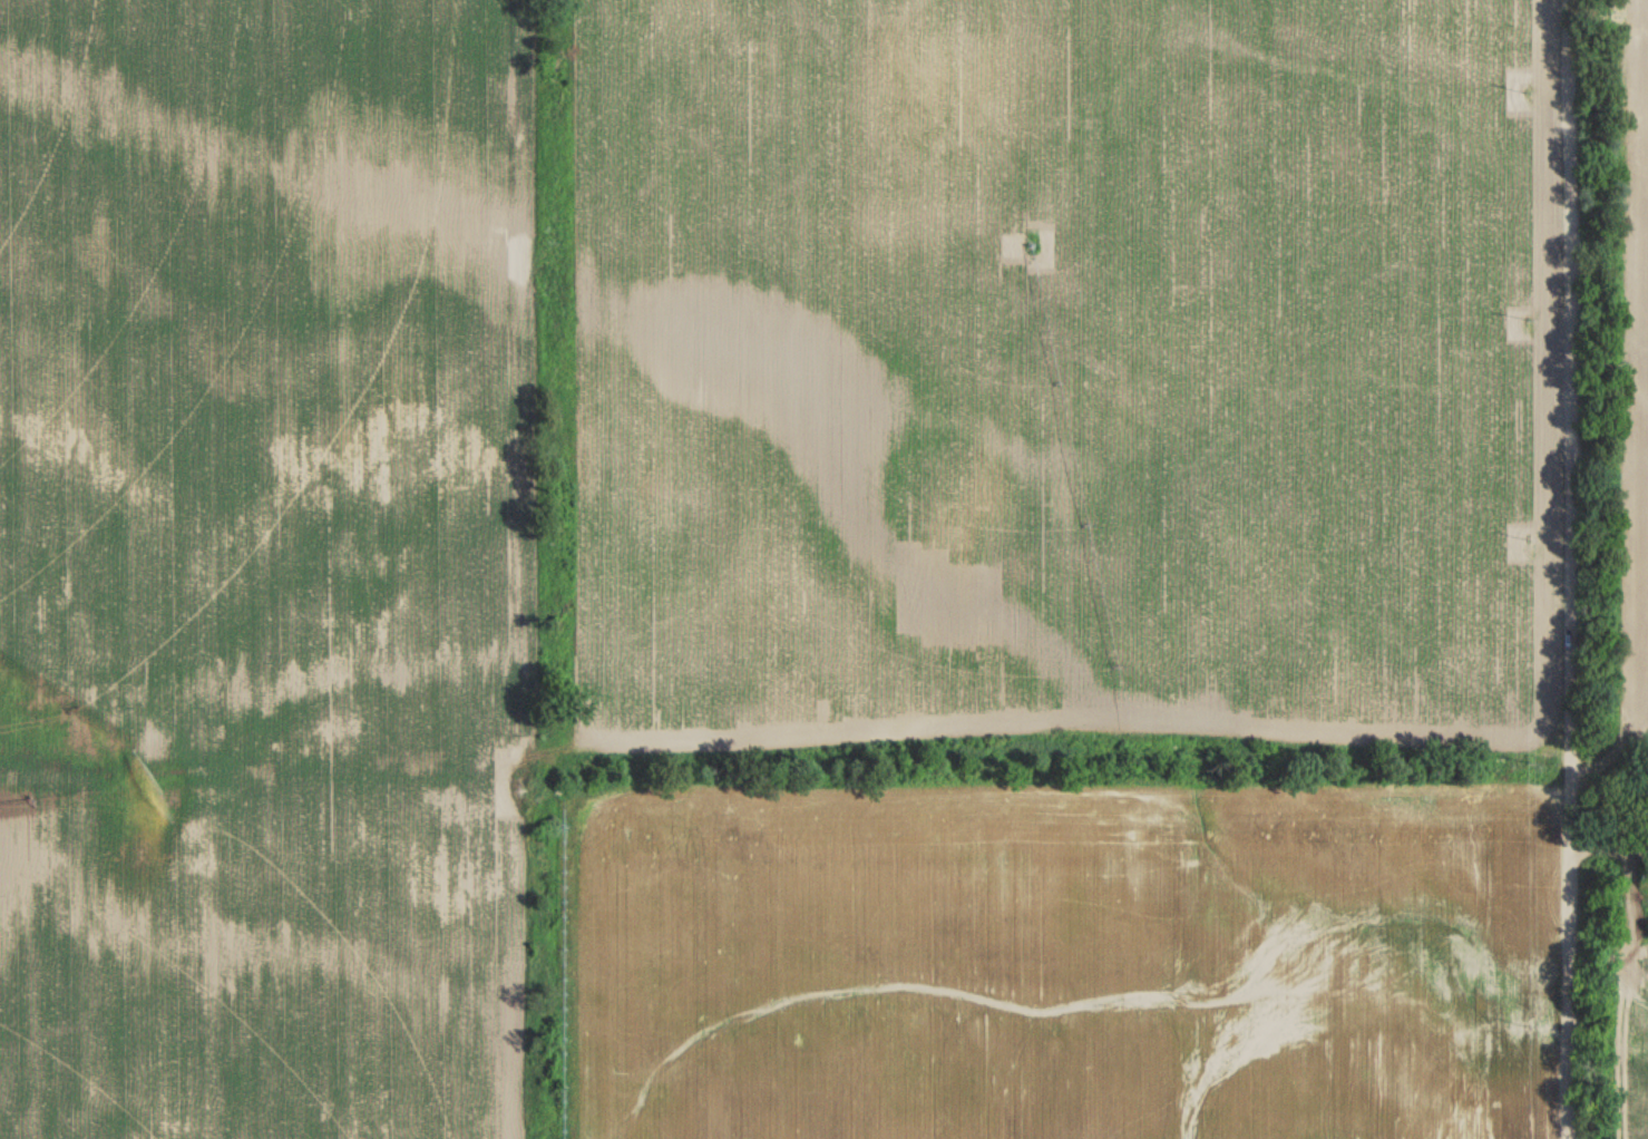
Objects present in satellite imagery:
road: (1572, 568)
road: (1609, 757)

